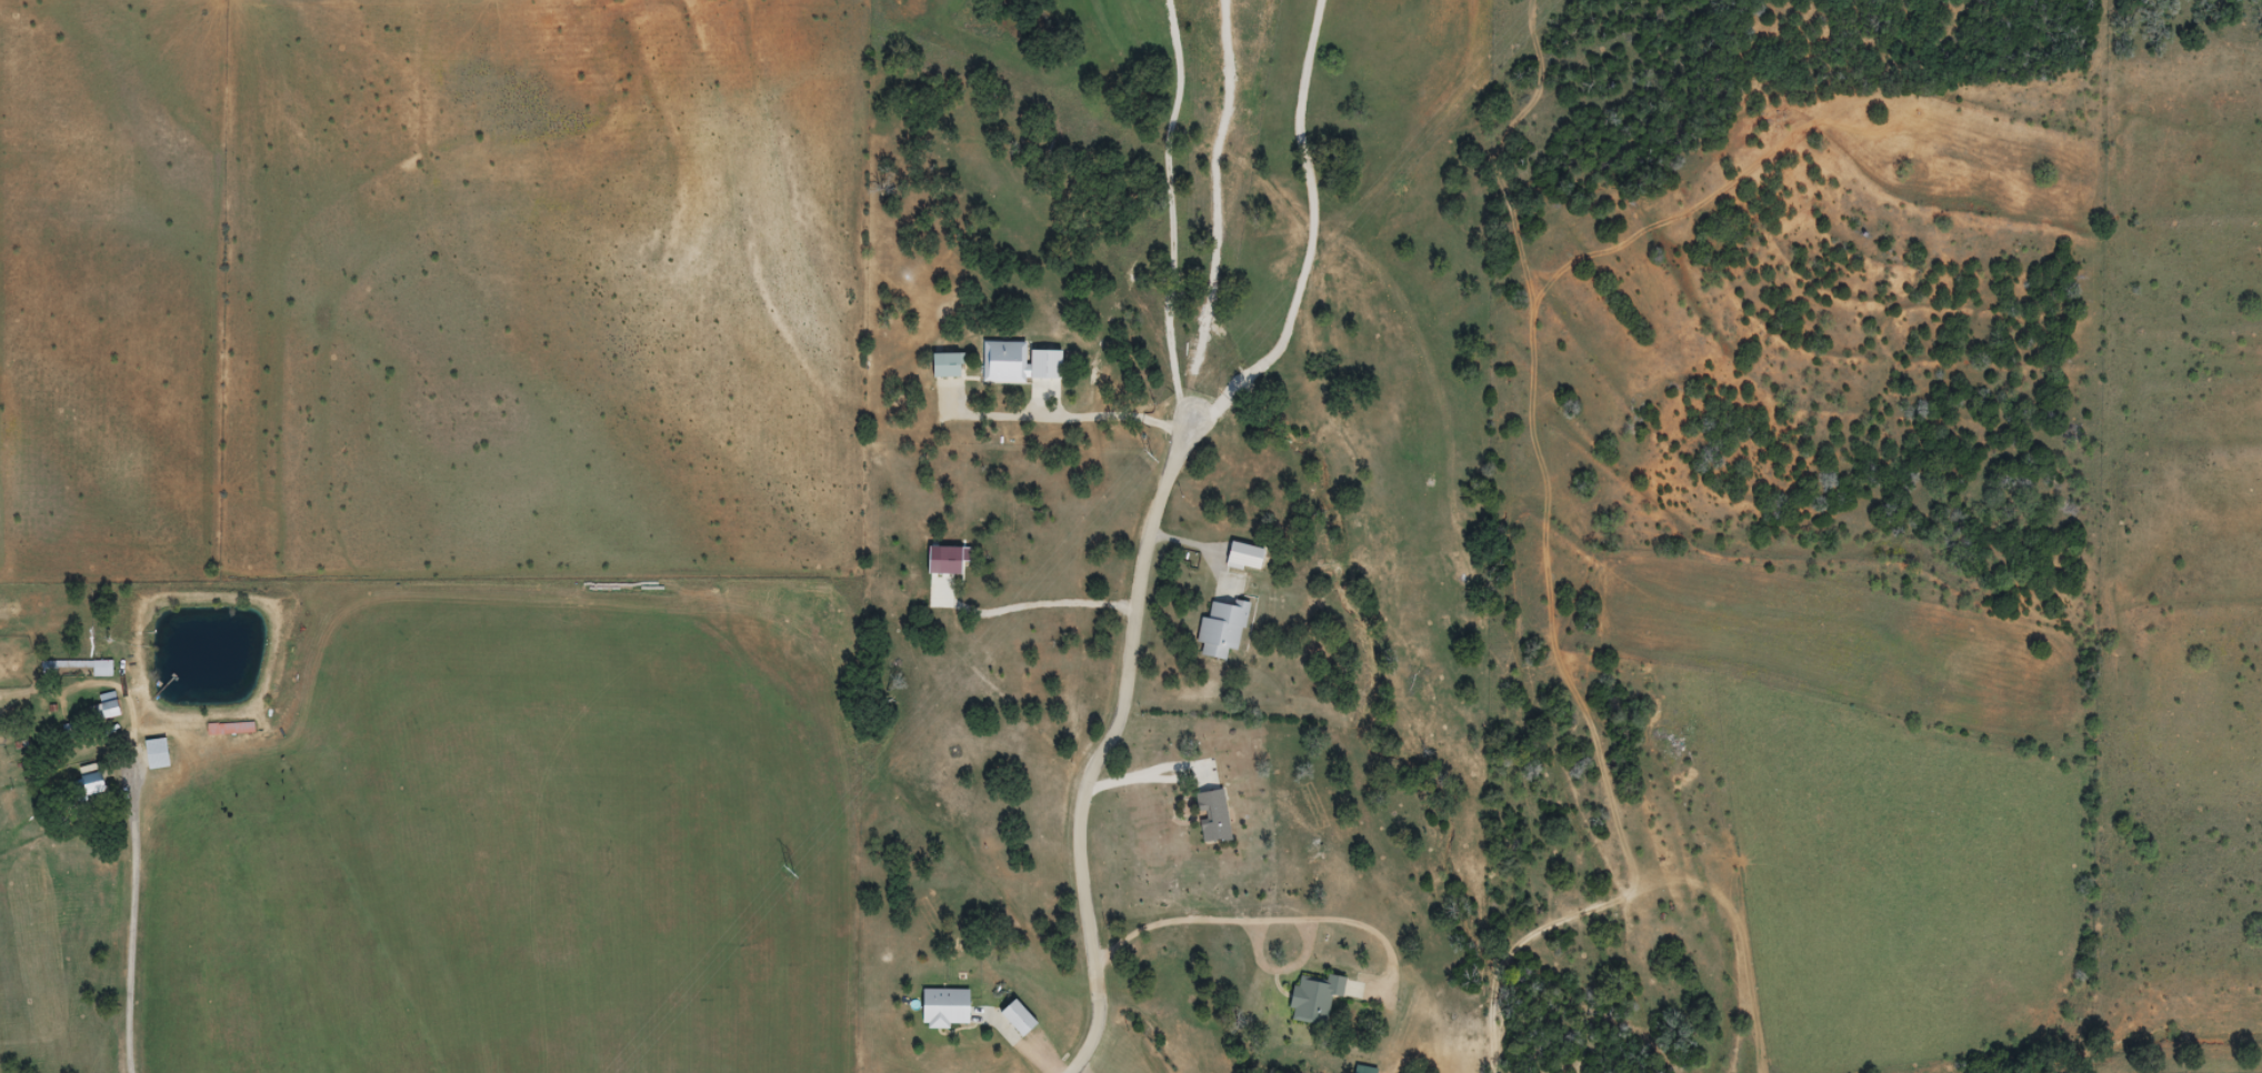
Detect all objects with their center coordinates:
building: (942, 365)
power tower: (1143, 457)
building: (1241, 558)
building: (1219, 630)
building: (78, 669)
building: (107, 706)
building: (230, 729)
road: (1109, 748)
building: (154, 754)
building: (87, 782)
building: (1209, 816)
power tower: (790, 872)
road: (139, 934)
road: (63, 1000)
building: (1312, 1000)
building: (1000, 1017)
building: (1364, 1070)

